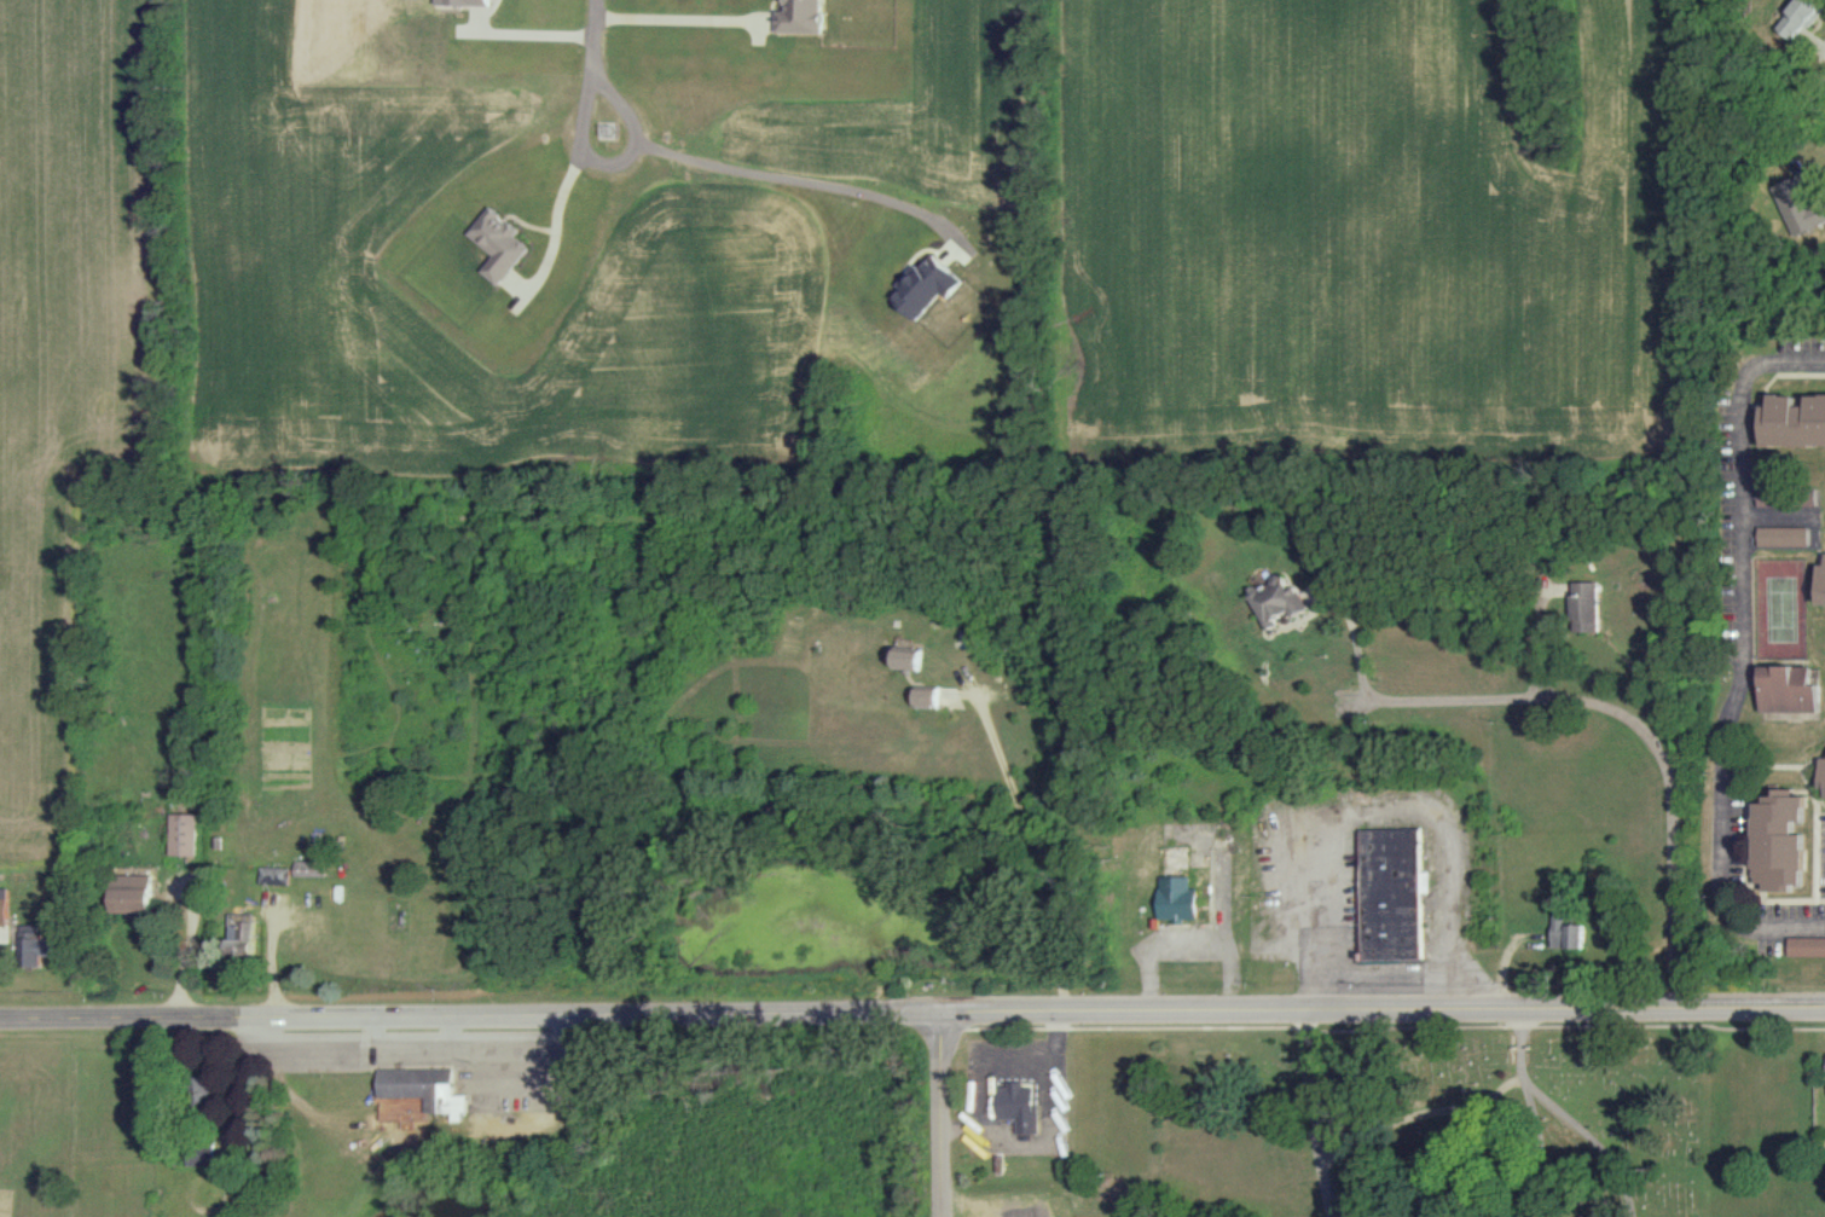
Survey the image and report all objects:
road: (679, 17)
building: (801, 17)
building: (1803, 18)
road: (525, 33)
road: (592, 64)
road: (752, 173)
road: (566, 178)
building: (498, 244)
building: (1801, 423)
building: (1791, 494)
building: (1786, 535)
building: (1279, 601)
building: (1587, 605)
park: (1783, 614)
road: (1536, 639)
building: (904, 659)
road: (1745, 662)
building: (1794, 692)
building: (923, 697)
road: (1584, 707)
building: (1824, 776)
road: (1395, 807)
building: (184, 833)
building: (1781, 846)
road: (1022, 856)
building: (312, 867)
building: (276, 874)
building: (133, 893)
building: (1391, 893)
building: (1177, 898)
building: (2, 905)
building: (1568, 929)
building: (243, 938)
building: (46, 945)
building: (1806, 945)
road: (912, 1012)
road: (1024, 1066)
road: (1055, 1074)
building: (424, 1086)
building: (201, 1091)
building: (1018, 1105)
road: (1308, 1113)
road: (948, 1114)
park: (1445, 1122)
building: (203, 1151)

